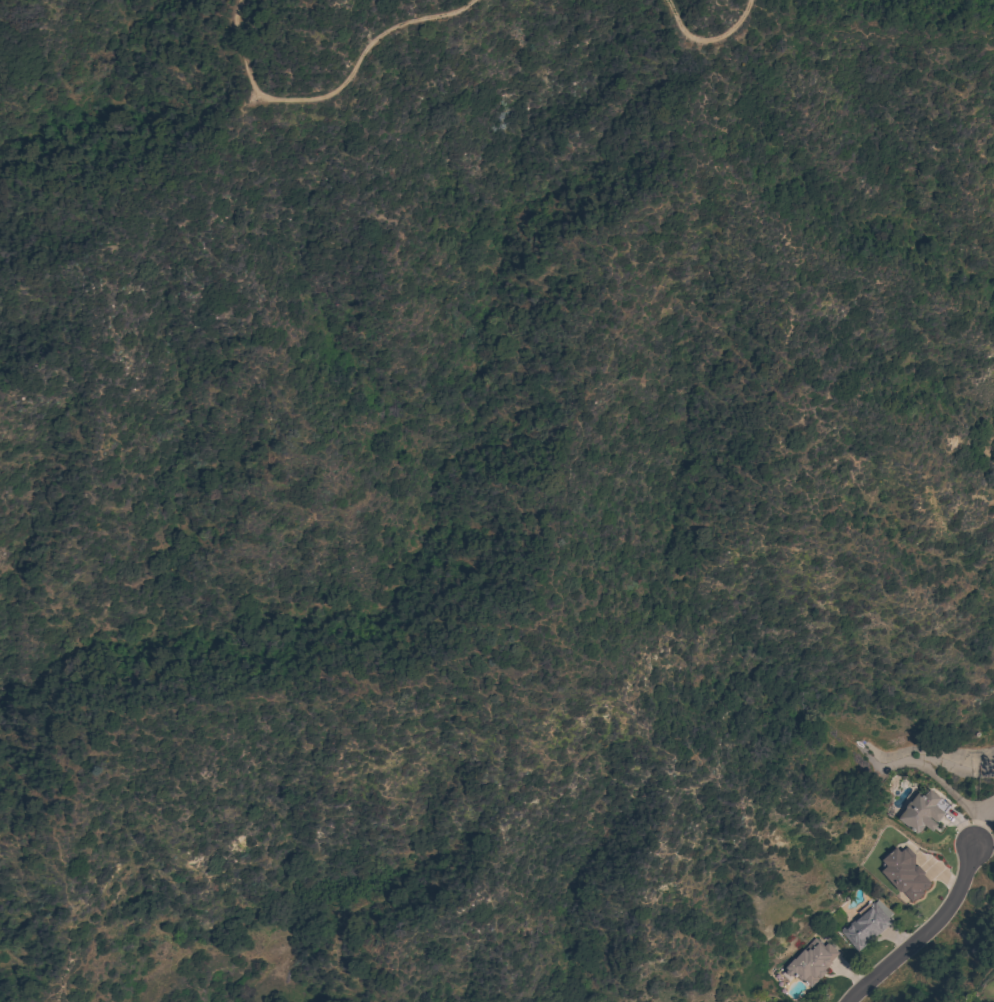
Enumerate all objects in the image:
road: (709, 39)
road: (335, 93)
road: (609, 345)
road: (174, 735)
building: (923, 812)
building: (903, 873)
road: (939, 919)
building: (866, 924)
building: (810, 963)
building: (993, 1000)

